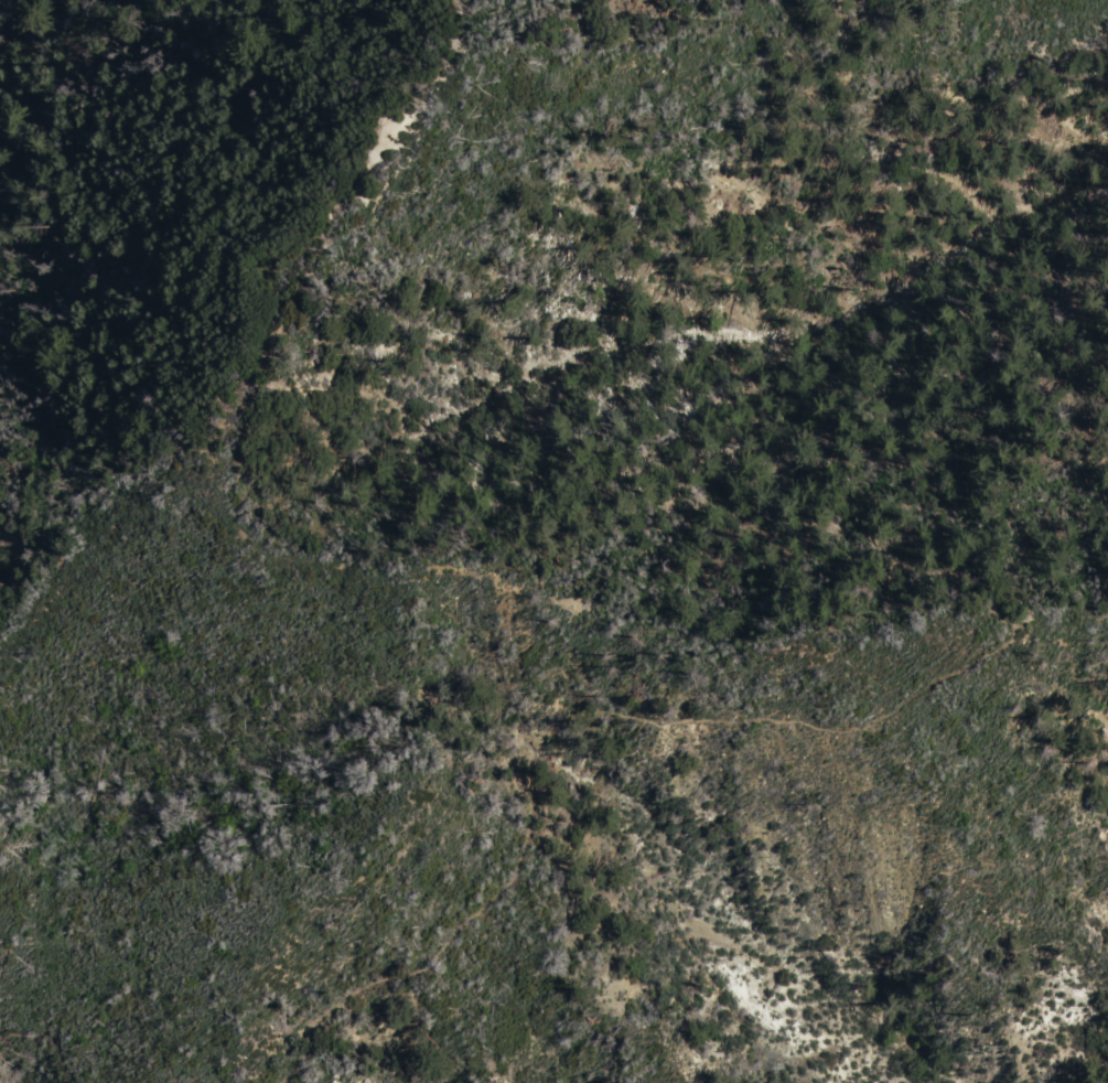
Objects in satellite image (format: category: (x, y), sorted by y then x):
road: (1008, 628)
road: (45, 1046)

